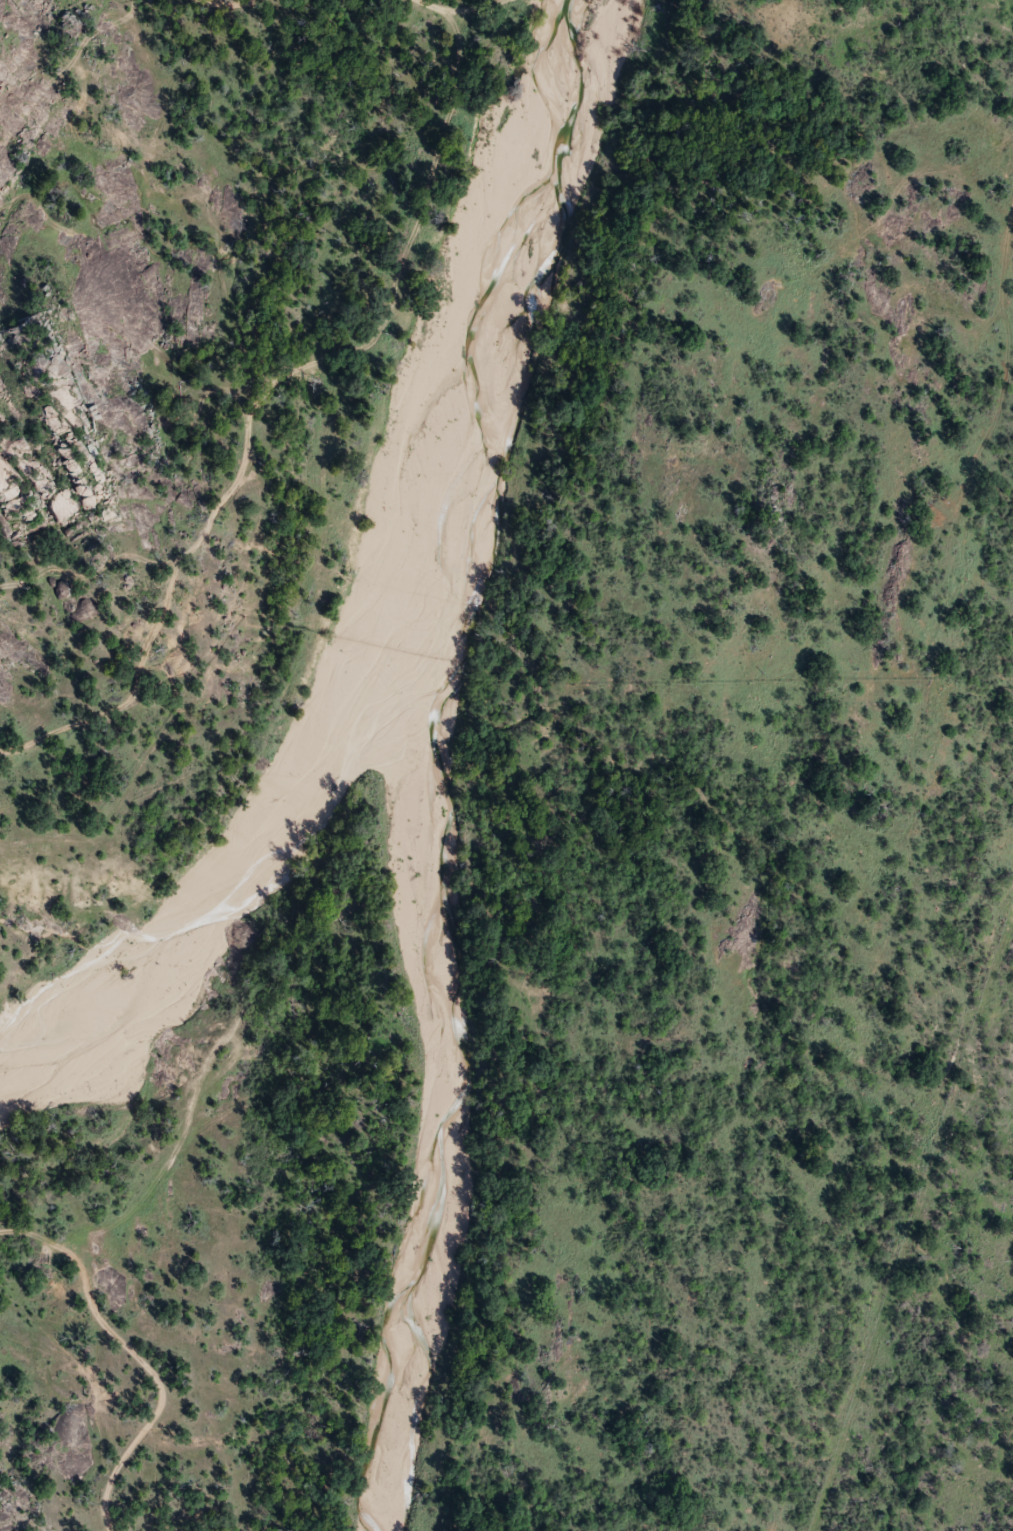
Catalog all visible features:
river: (405, 756)

